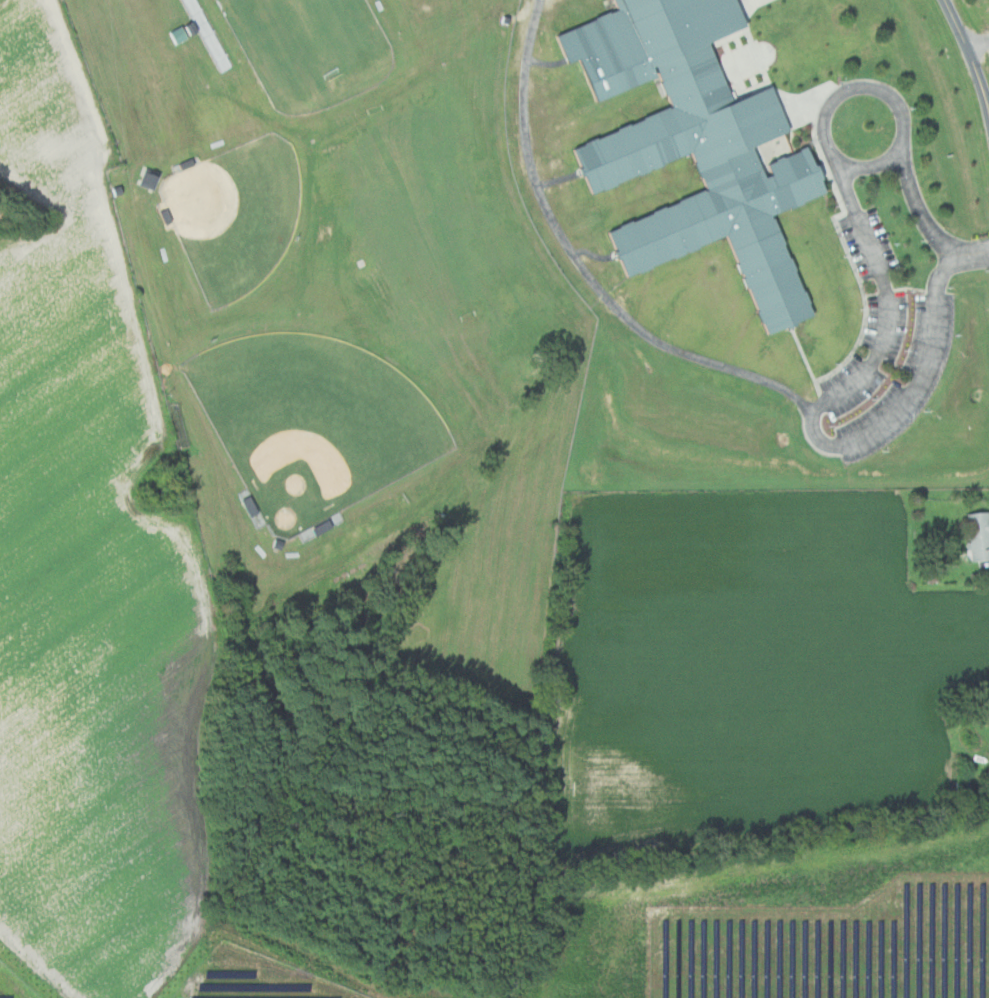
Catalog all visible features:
building: (211, 34)
park: (308, 39)
road: (977, 41)
road: (969, 49)
stadium: (305, 52)
road: (857, 88)
building: (696, 145)
road: (874, 164)
building: (154, 179)
road: (929, 225)
road: (582, 265)
road: (815, 415)
building: (979, 535)

